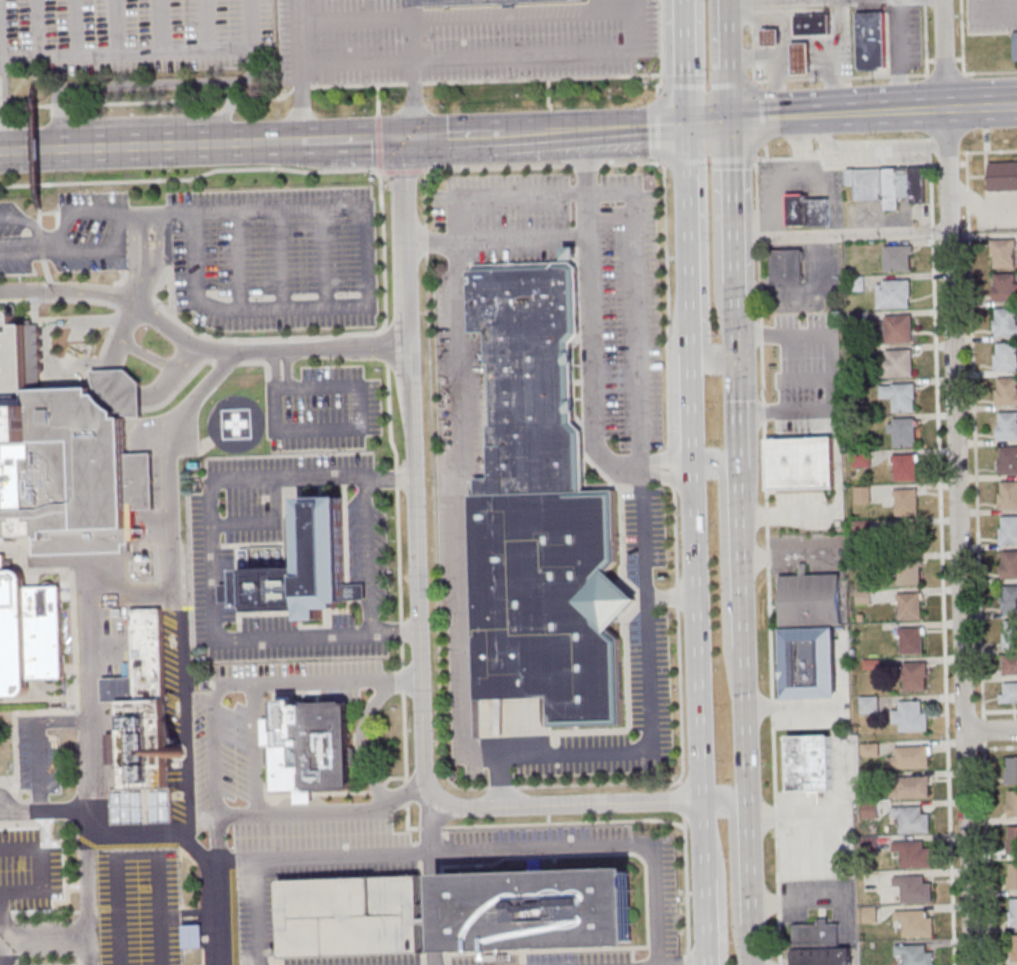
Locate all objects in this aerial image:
road: (738, 0)
building: (467, 1)
road: (993, 10)
road: (354, 19)
road: (769, 20)
road: (770, 20)
road: (252, 23)
road: (208, 24)
road: (116, 25)
road: (161, 25)
building: (811, 25)
road: (75, 26)
road: (38, 27)
road: (959, 29)
road: (923, 30)
road: (726, 34)
building: (769, 38)
road: (775, 38)
road: (766, 39)
building: (869, 41)
road: (751, 43)
road: (799, 46)
building: (1014, 46)
road: (126, 50)
road: (828, 51)
road: (767, 53)
road: (550, 55)
road: (818, 55)
road: (827, 55)
road: (942, 55)
road: (800, 56)
road: (759, 58)
road: (783, 58)
building: (799, 59)
road: (356, 62)
road: (684, 63)
road: (413, 67)
road: (300, 69)
road: (250, 70)
road: (800, 70)
road: (902, 75)
road: (683, 79)
road: (772, 81)
road: (115, 83)
road: (730, 83)
road: (339, 84)
road: (707, 86)
road: (728, 97)
road: (377, 98)
road: (1002, 108)
road: (981, 109)
road: (961, 110)
road: (227, 111)
road: (760, 113)
road: (838, 115)
road: (0, 123)
traffic signals: (731, 125)
road: (660, 126)
road: (708, 126)
traffic signals: (686, 127)
road: (634, 128)
road: (574, 130)
road: (559, 131)
road: (525, 132)
road: (473, 134)
road: (426, 135)
road: (366, 137)
traffic signals: (404, 137)
road: (315, 139)
road: (272, 141)
road: (379, 142)
road: (37, 144)
road: (121, 145)
road: (764, 151)
road: (988, 151)
road: (954, 152)
road: (732, 159)
road: (708, 160)
road: (685, 162)
road: (949, 163)
road: (963, 163)
road: (687, 166)
road: (843, 166)
road: (403, 170)
building: (1003, 176)
road: (190, 178)
building: (889, 184)
road: (732, 205)
road: (982, 205)
road: (242, 208)
building: (810, 211)
road: (39, 212)
road: (74, 213)
road: (23, 219)
road: (39, 219)
road: (841, 232)
road: (40, 237)
road: (40, 242)
road: (432, 242)
road: (23, 246)
road: (97, 250)
building: (572, 252)
building: (1002, 254)
road: (134, 256)
road: (147, 257)
road: (325, 257)
road: (283, 258)
building: (896, 259)
road: (158, 260)
road: (240, 260)
road: (45, 266)
building: (787, 266)
road: (121, 281)
road: (690, 282)
road: (141, 284)
building: (1004, 288)
road: (66, 289)
road: (804, 292)
road: (118, 293)
road: (173, 293)
building: (892, 295)
road: (61, 299)
road: (141, 307)
road: (288, 309)
building: (1005, 322)
road: (735, 323)
building: (897, 329)
road: (111, 333)
road: (123, 334)
road: (48, 338)
road: (247, 339)
road: (264, 349)
road: (149, 354)
building: (1005, 357)
traffic signals: (737, 362)
building: (900, 364)
road: (714, 366)
road: (288, 368)
road: (275, 369)
building: (530, 372)
road: (172, 374)
road: (828, 375)
road: (123, 387)
building: (121, 390)
building: (1006, 393)
building: (902, 397)
road: (691, 411)
road: (736, 416)
helipad: (237, 423)
building: (1006, 427)
road: (361, 428)
building: (806, 430)
building: (903, 432)
road: (974, 435)
road: (669, 445)
building: (64, 458)
road: (715, 460)
building: (1007, 461)
building: (904, 469)
road: (393, 478)
building: (1007, 496)
building: (905, 503)
road: (266, 522)
building: (1008, 531)
building: (907, 538)
road: (958, 538)
road: (369, 556)
road: (738, 560)
road: (767, 561)
road: (942, 563)
building: (1008, 566)
road: (212, 568)
building: (300, 568)
building: (908, 573)
road: (172, 582)
road: (130, 595)
road: (670, 596)
building: (811, 600)
building: (1009, 600)
building: (549, 601)
road: (419, 603)
building: (910, 608)
building: (28, 631)
road: (403, 633)
road: (695, 633)
building: (1010, 635)
road: (402, 638)
building: (911, 642)
road: (467, 653)
building: (142, 660)
building: (1010, 665)
building: (171, 666)
building: (809, 666)
building: (914, 677)
road: (232, 683)
building: (1009, 692)
building: (869, 704)
street lamp: (73, 710)
road: (999, 711)
building: (912, 717)
road: (65, 721)
road: (744, 728)
road: (990, 729)
road: (982, 730)
building: (143, 743)
building: (311, 747)
road: (257, 748)
road: (996, 748)
building: (911, 757)
road: (89, 762)
building: (810, 764)
road: (41, 765)
building: (1011, 769)
road: (501, 779)
building: (910, 787)
road: (402, 795)
road: (5, 802)
building: (1012, 803)
building: (141, 805)
building: (870, 809)
road: (298, 812)
road: (792, 814)
building: (910, 818)
road: (46, 830)
road: (158, 833)
building: (1011, 839)
road: (702, 840)
road: (127, 846)
road: (494, 851)
building: (911, 853)
road: (986, 853)
road: (138, 855)
road: (194, 858)
road: (747, 865)
road: (44, 869)
road: (732, 869)
building: (1012, 875)
road: (432, 881)
building: (911, 887)
road: (205, 891)
road: (798, 903)
road: (718, 905)
road: (161, 909)
building: (538, 909)
road: (119, 910)
building: (1013, 911)
road: (190, 913)
road: (258, 913)
building: (350, 914)
building: (867, 914)
road: (206, 916)
road: (191, 921)
road: (704, 921)
building: (913, 922)
road: (0, 929)
road: (206, 930)
building: (193, 935)
road: (749, 936)
road: (4, 937)
road: (45, 937)
road: (206, 938)
building: (819, 944)
building: (1013, 947)
building: (913, 954)
road: (750, 957)
road: (696, 964)

